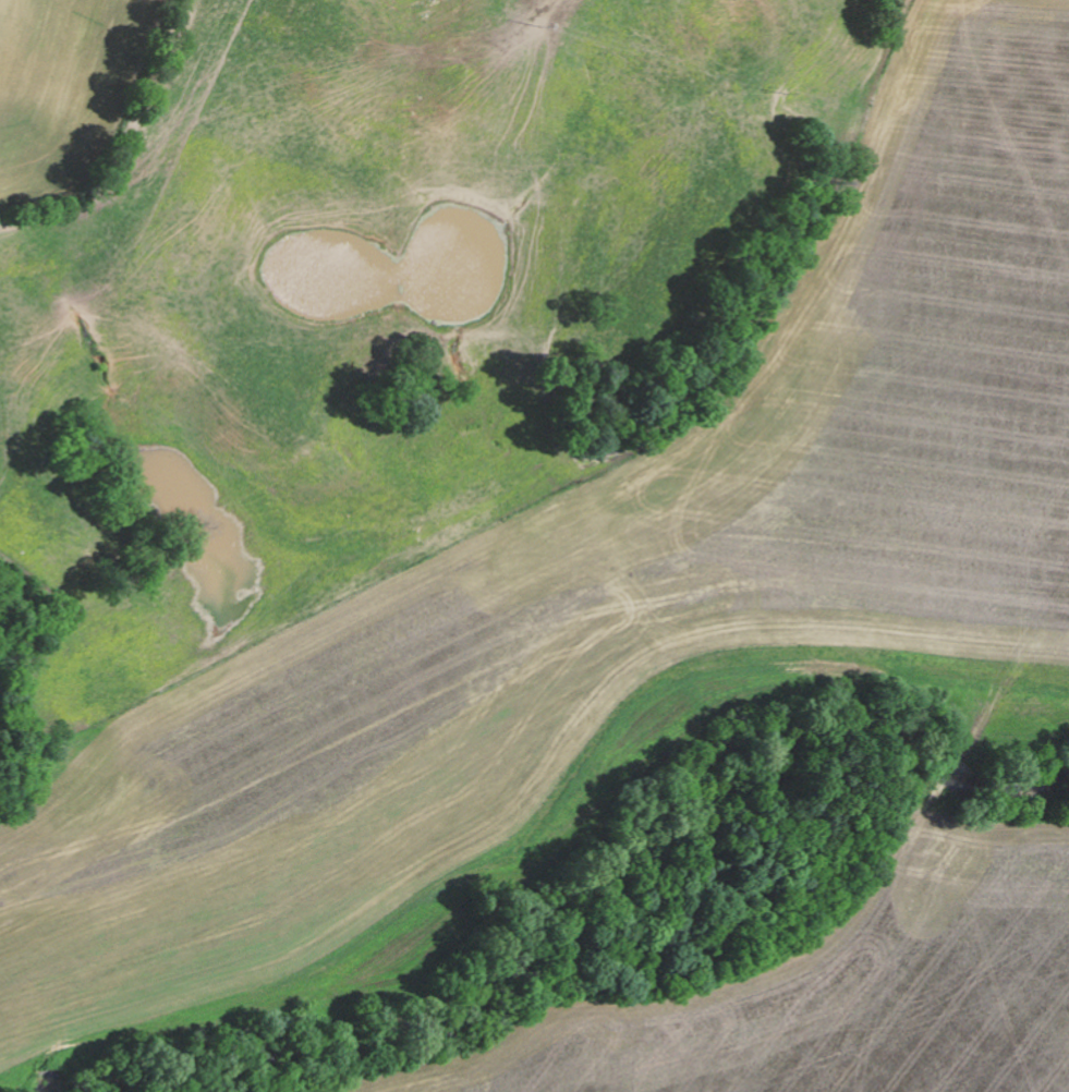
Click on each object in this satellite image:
road: (894, 28)

